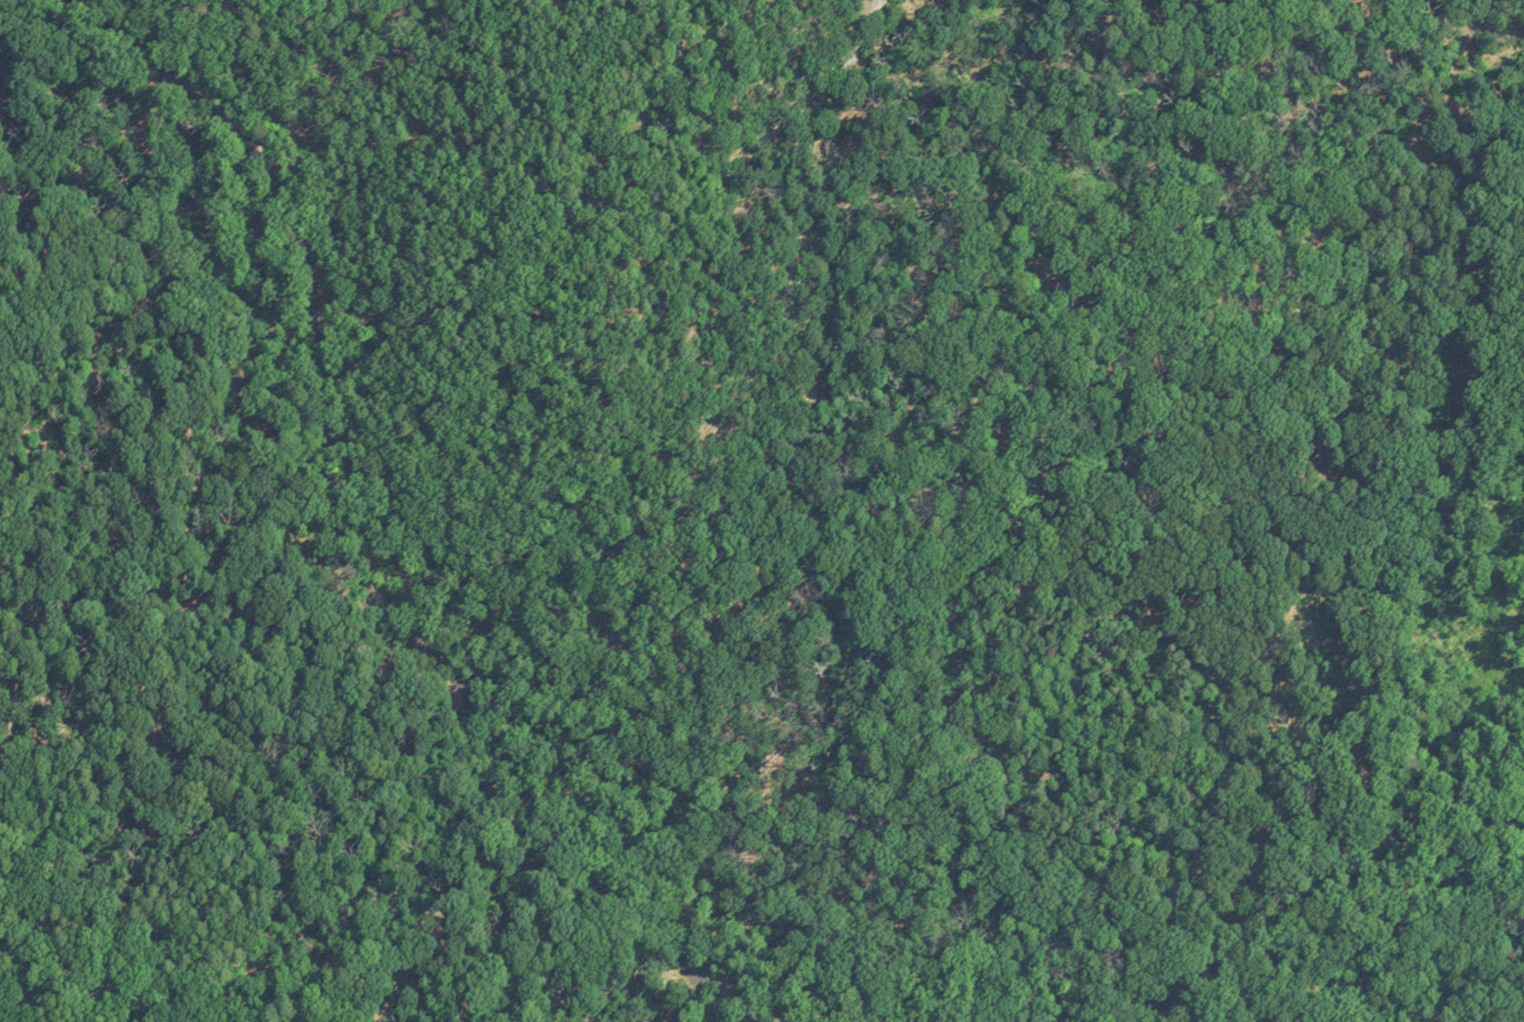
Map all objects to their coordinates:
road: (1008, 82)
road: (944, 164)
road: (1393, 191)
road: (360, 553)
road: (97, 944)
road: (1398, 972)

